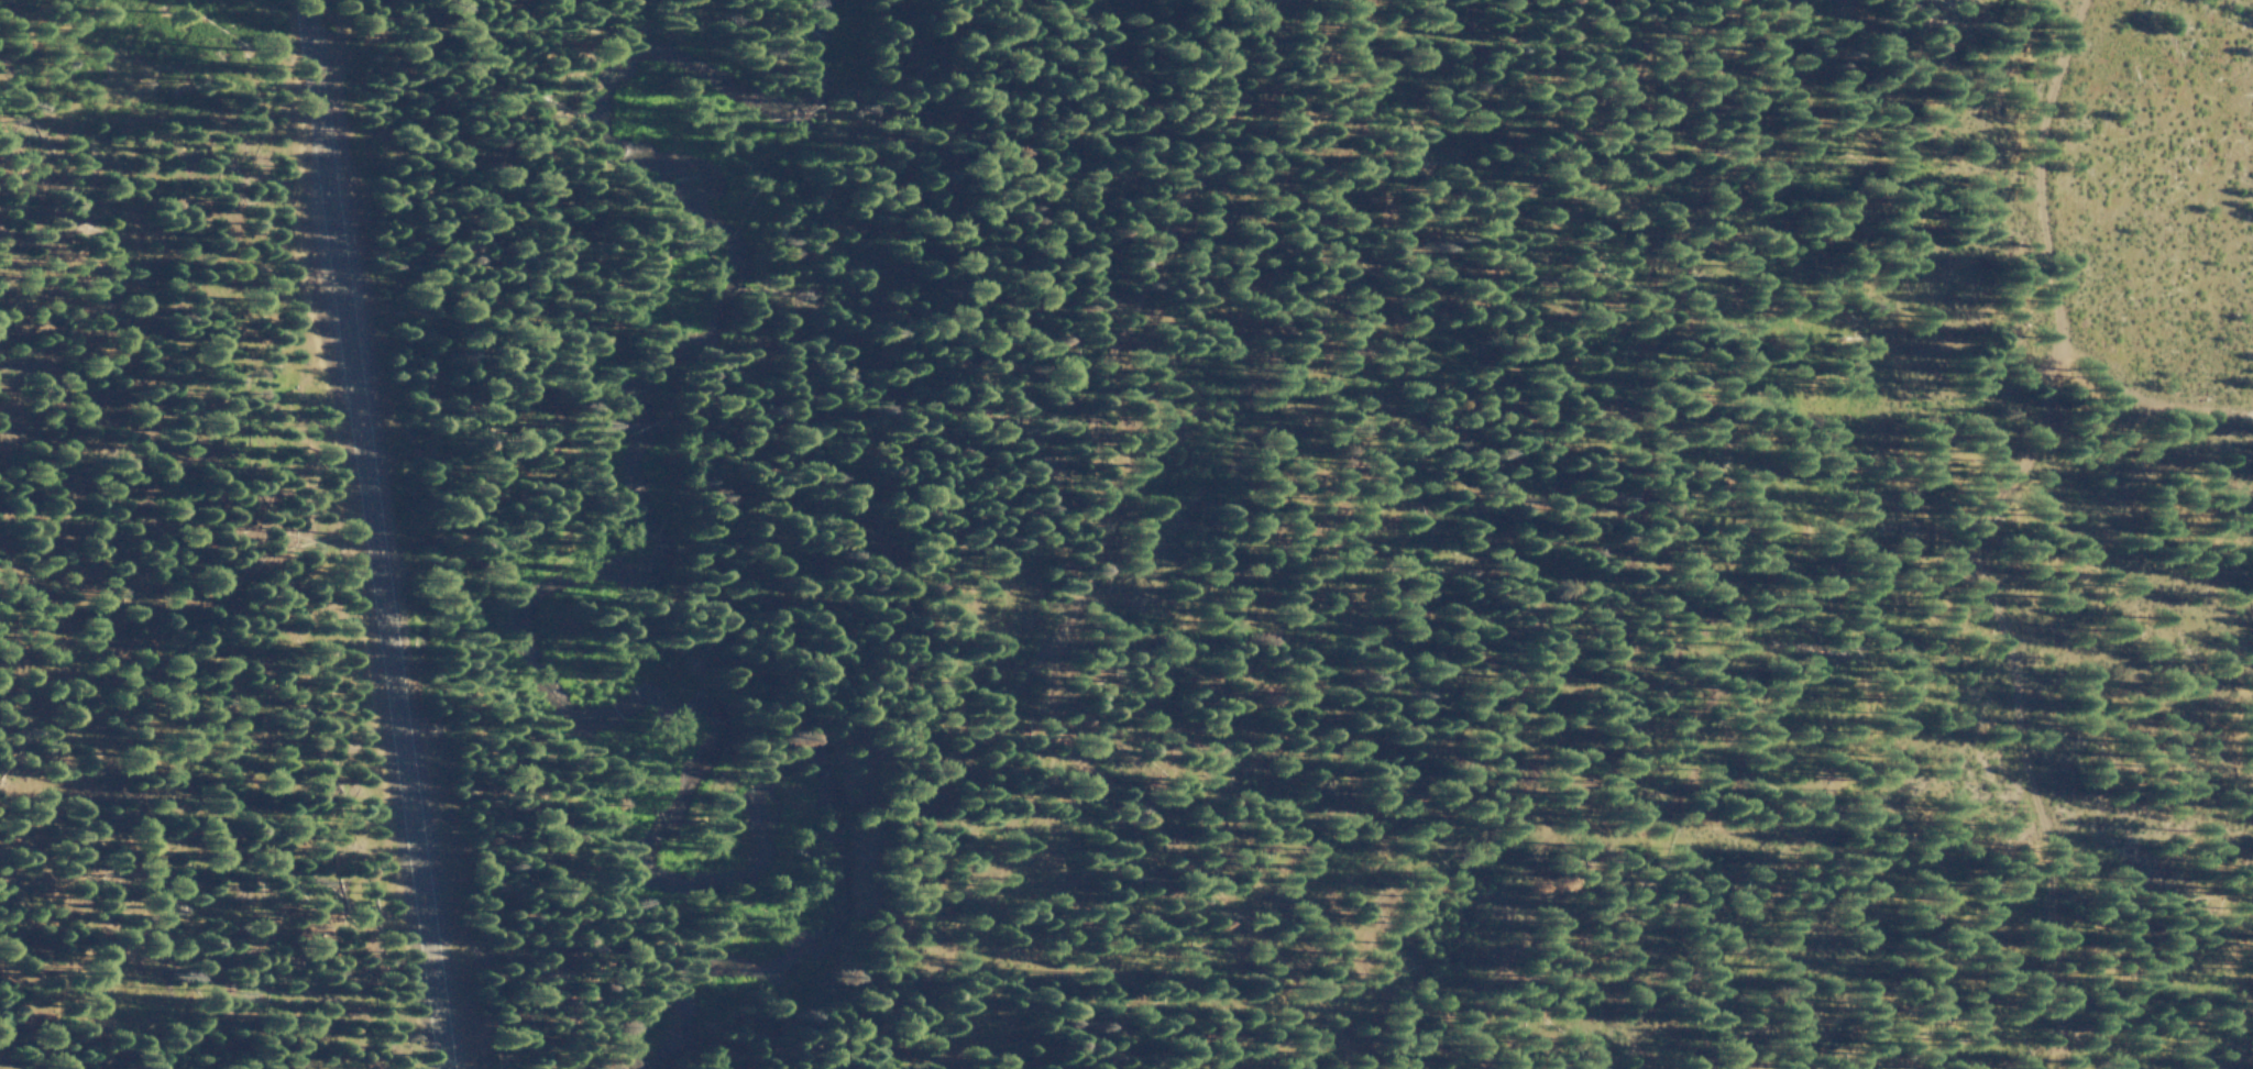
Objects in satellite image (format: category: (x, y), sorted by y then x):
road: (312, 59)
road: (382, 593)

